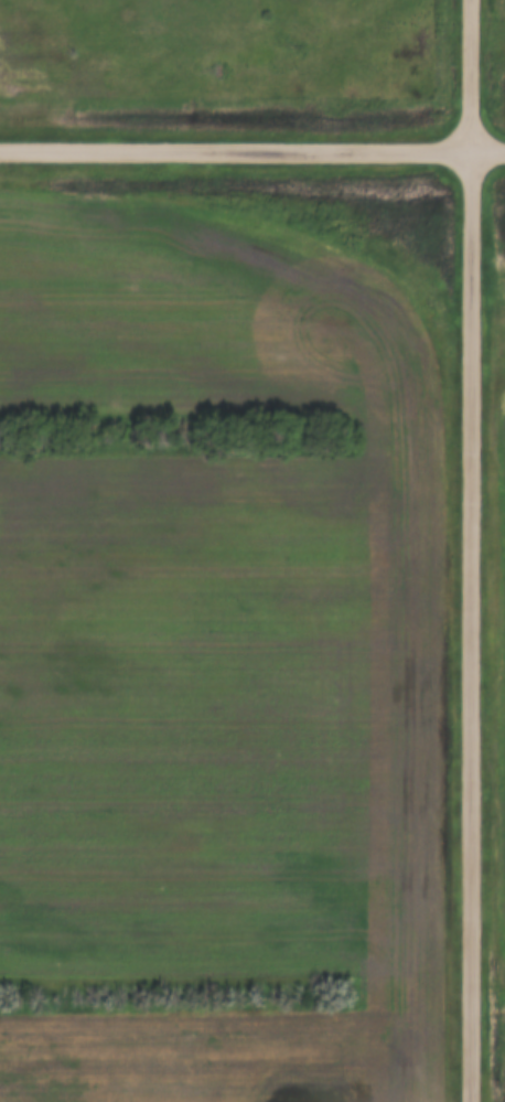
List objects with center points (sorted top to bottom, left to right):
road: (253, 149)
road: (471, 550)

